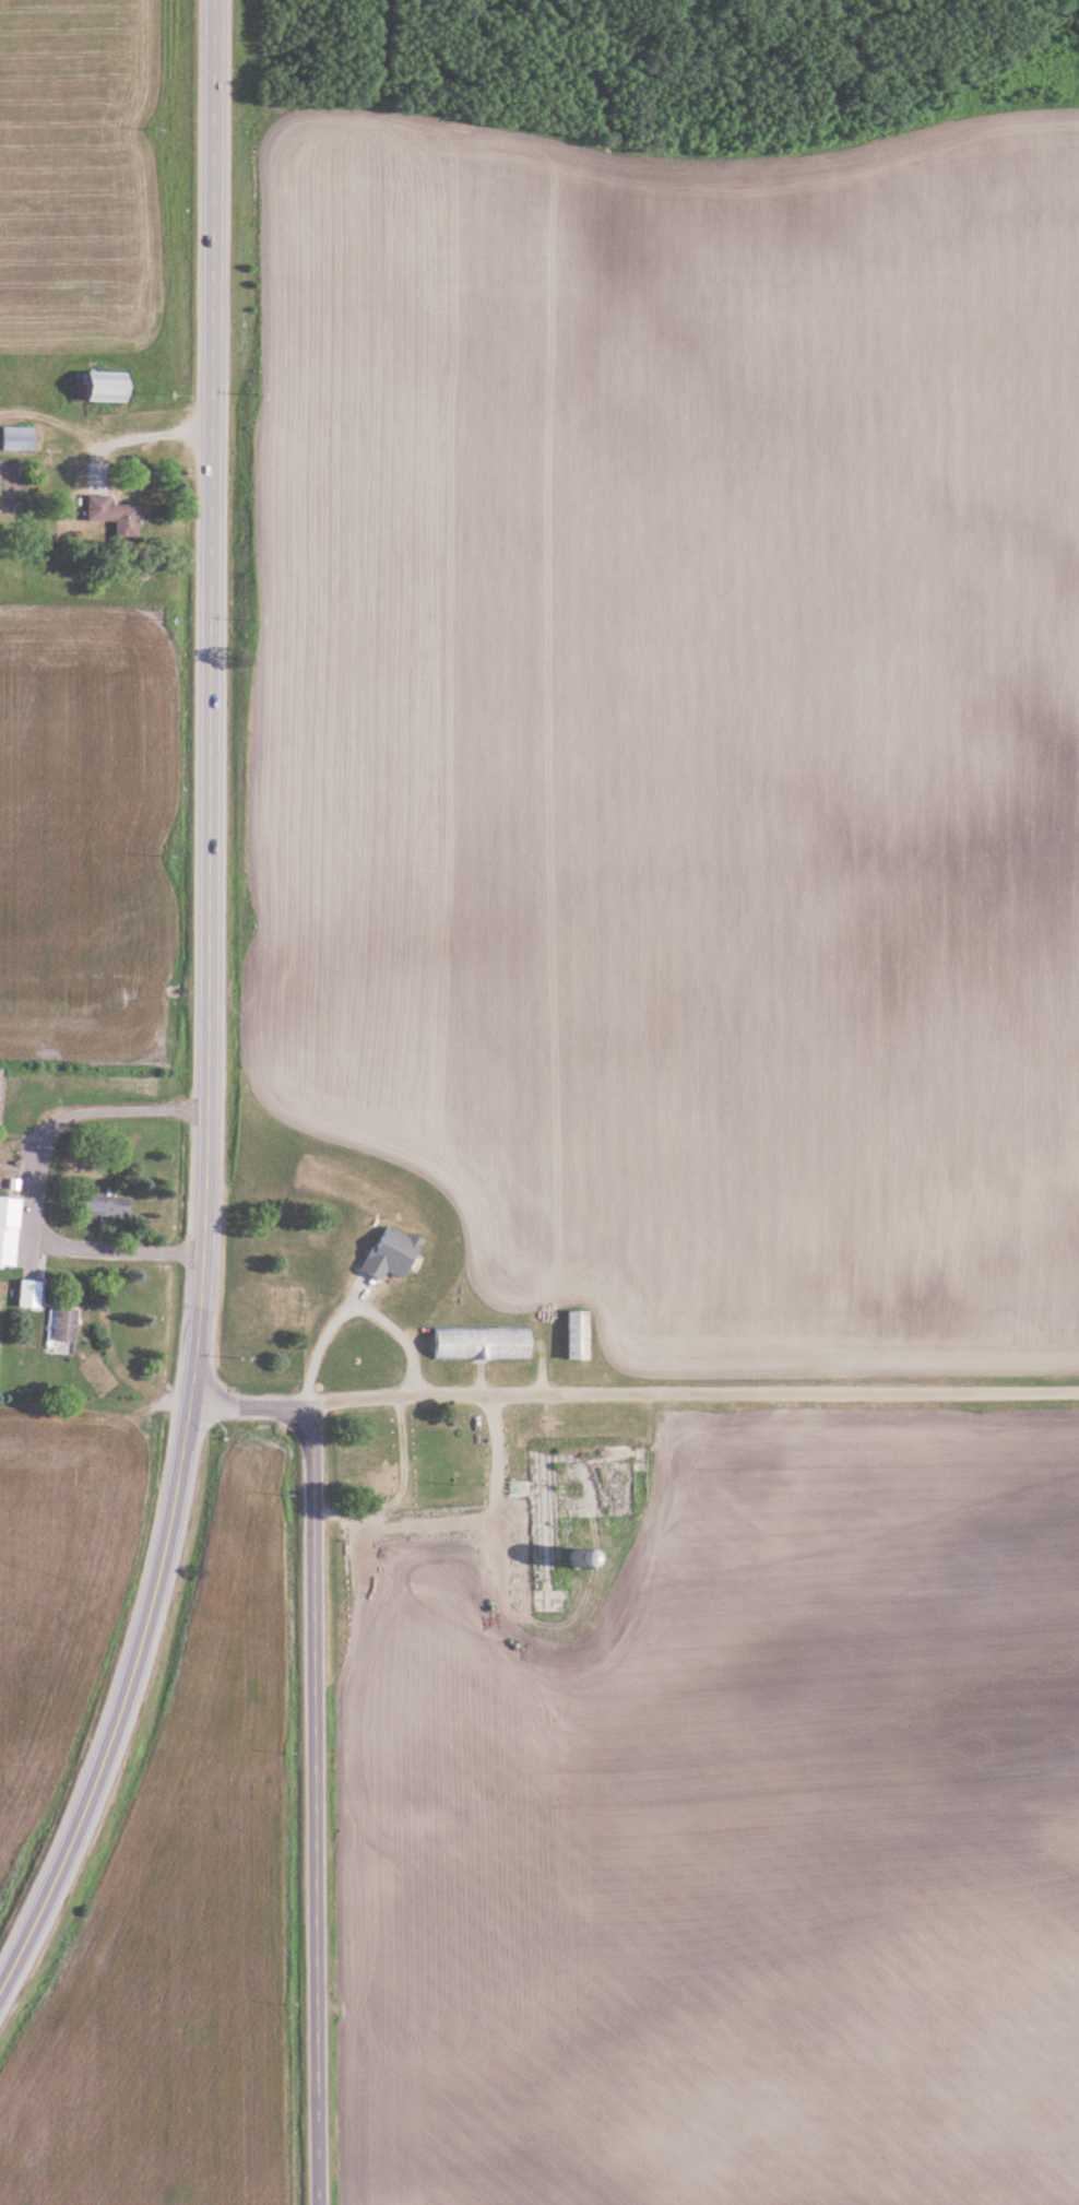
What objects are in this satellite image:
building: (105, 388)
building: (20, 437)
building: (115, 516)
road: (214, 699)
building: (108, 1204)
building: (9, 1229)
building: (389, 1252)
building: (31, 1294)
building: (63, 1324)
building: (576, 1334)
building: (481, 1343)
road: (636, 1393)
road: (126, 1705)
road: (319, 1801)

